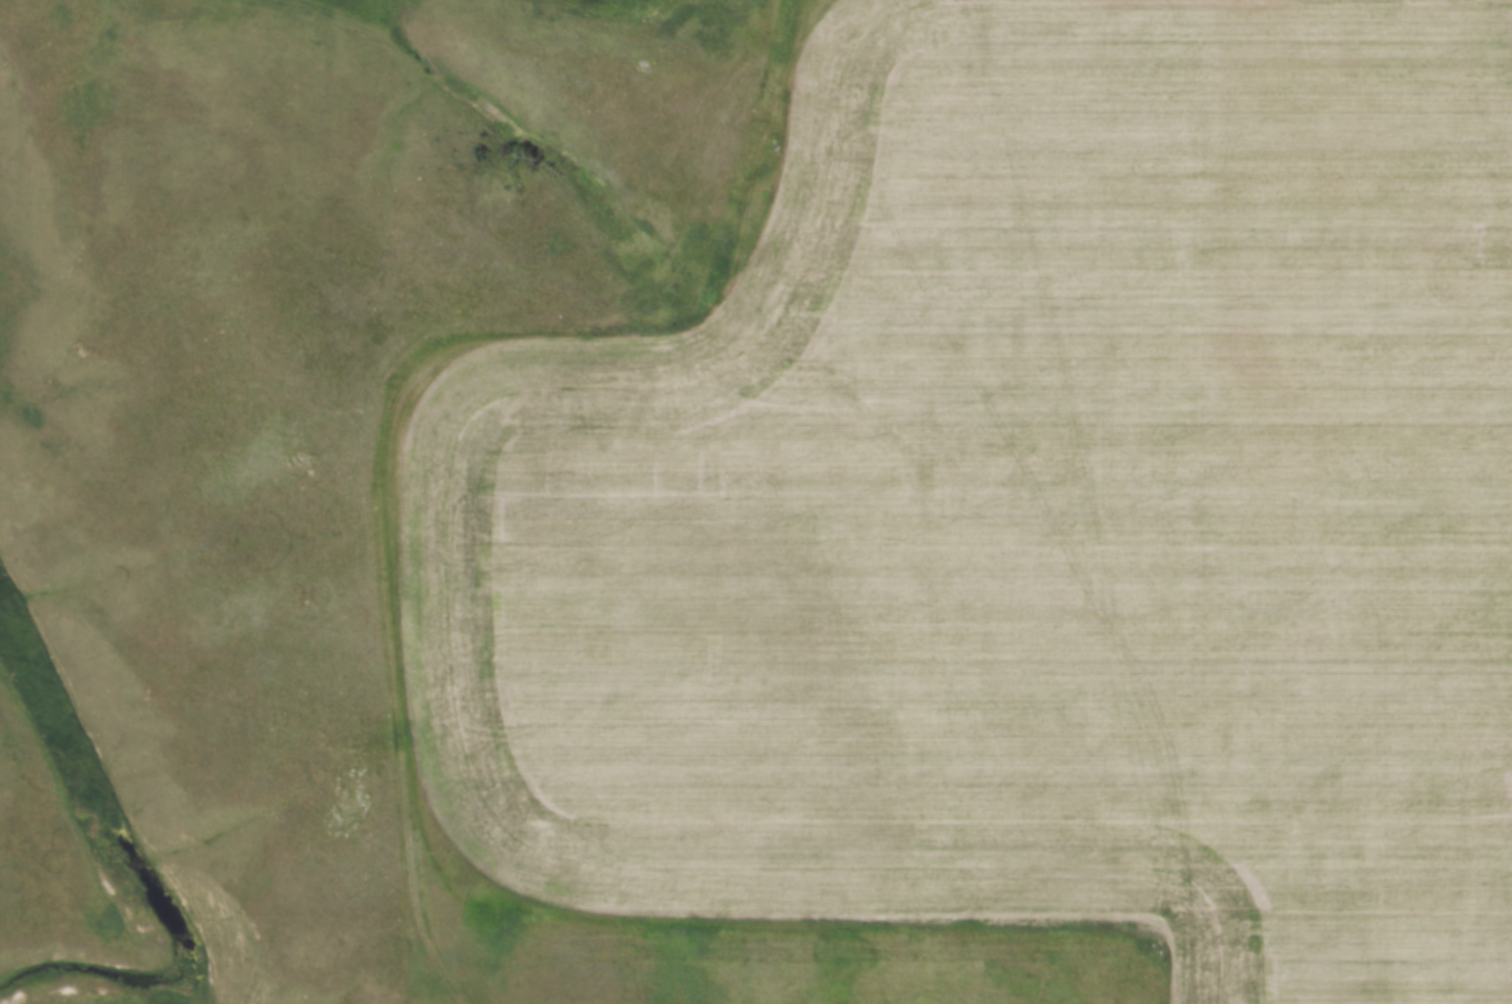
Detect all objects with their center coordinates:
road: (412, 369)

